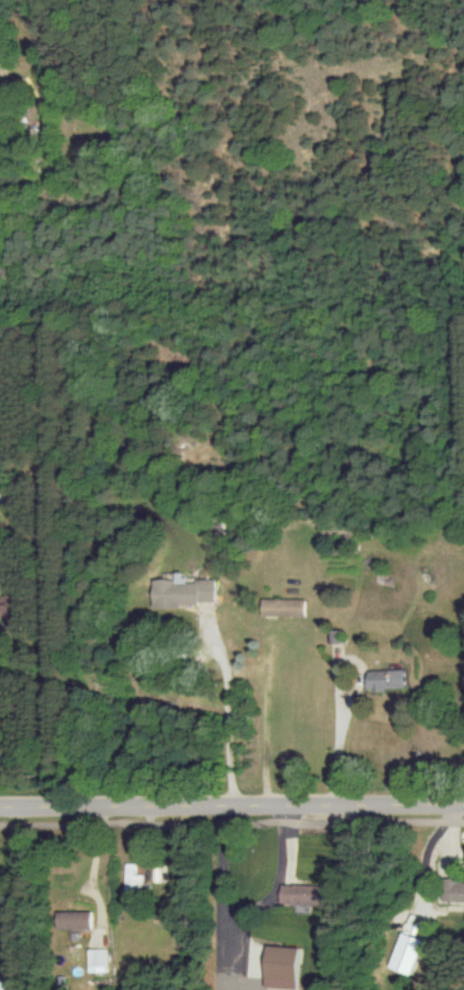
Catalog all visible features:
building: (0, 484)
building: (181, 592)
building: (280, 607)
building: (5, 610)
road: (44, 669)
building: (384, 678)
road: (226, 715)
road: (325, 738)
road: (231, 804)
road: (232, 822)
building: (129, 878)
building: (451, 889)
building: (301, 894)
building: (70, 919)
building: (402, 952)
building: (93, 960)
building: (277, 966)
building: (6, 985)

